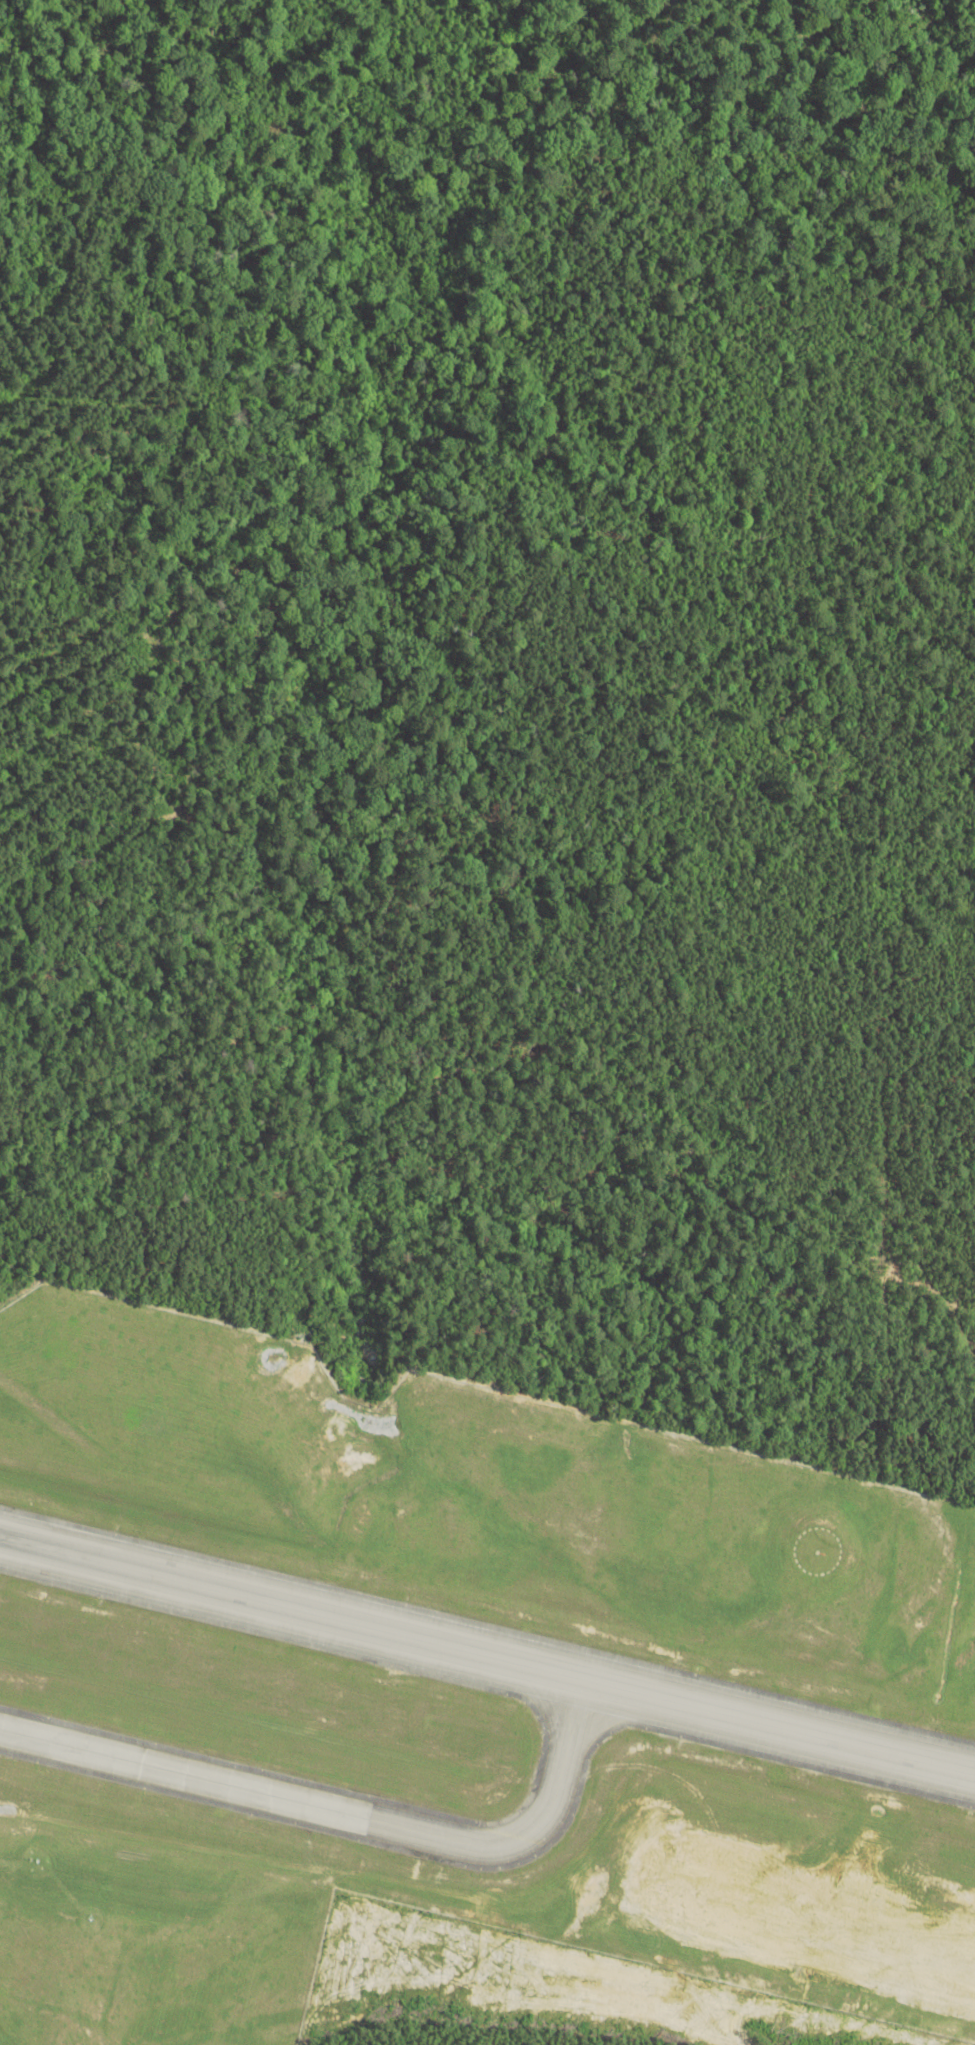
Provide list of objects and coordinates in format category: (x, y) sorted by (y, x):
airport runway: (487, 1656)
airport: (452, 1689)
airport taxiway: (560, 1700)
airport taxiway: (361, 1819)

